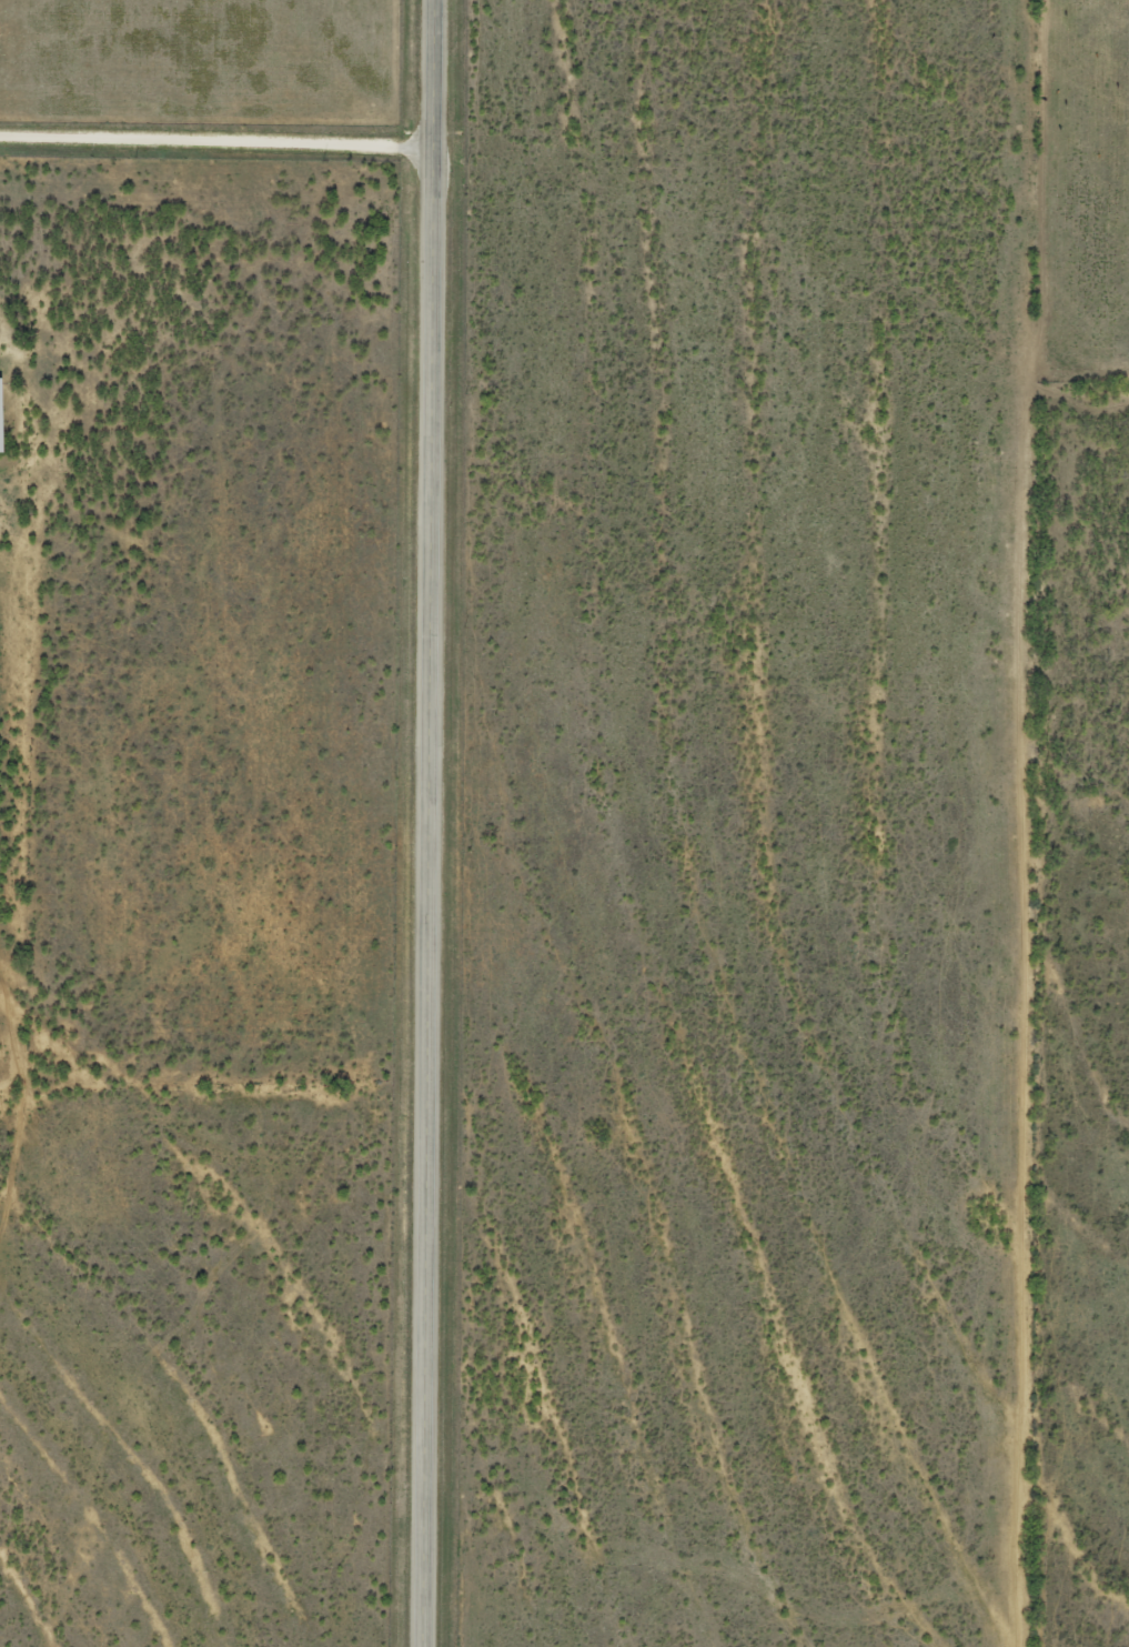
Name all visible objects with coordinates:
road: (216, 139)
road: (427, 823)

